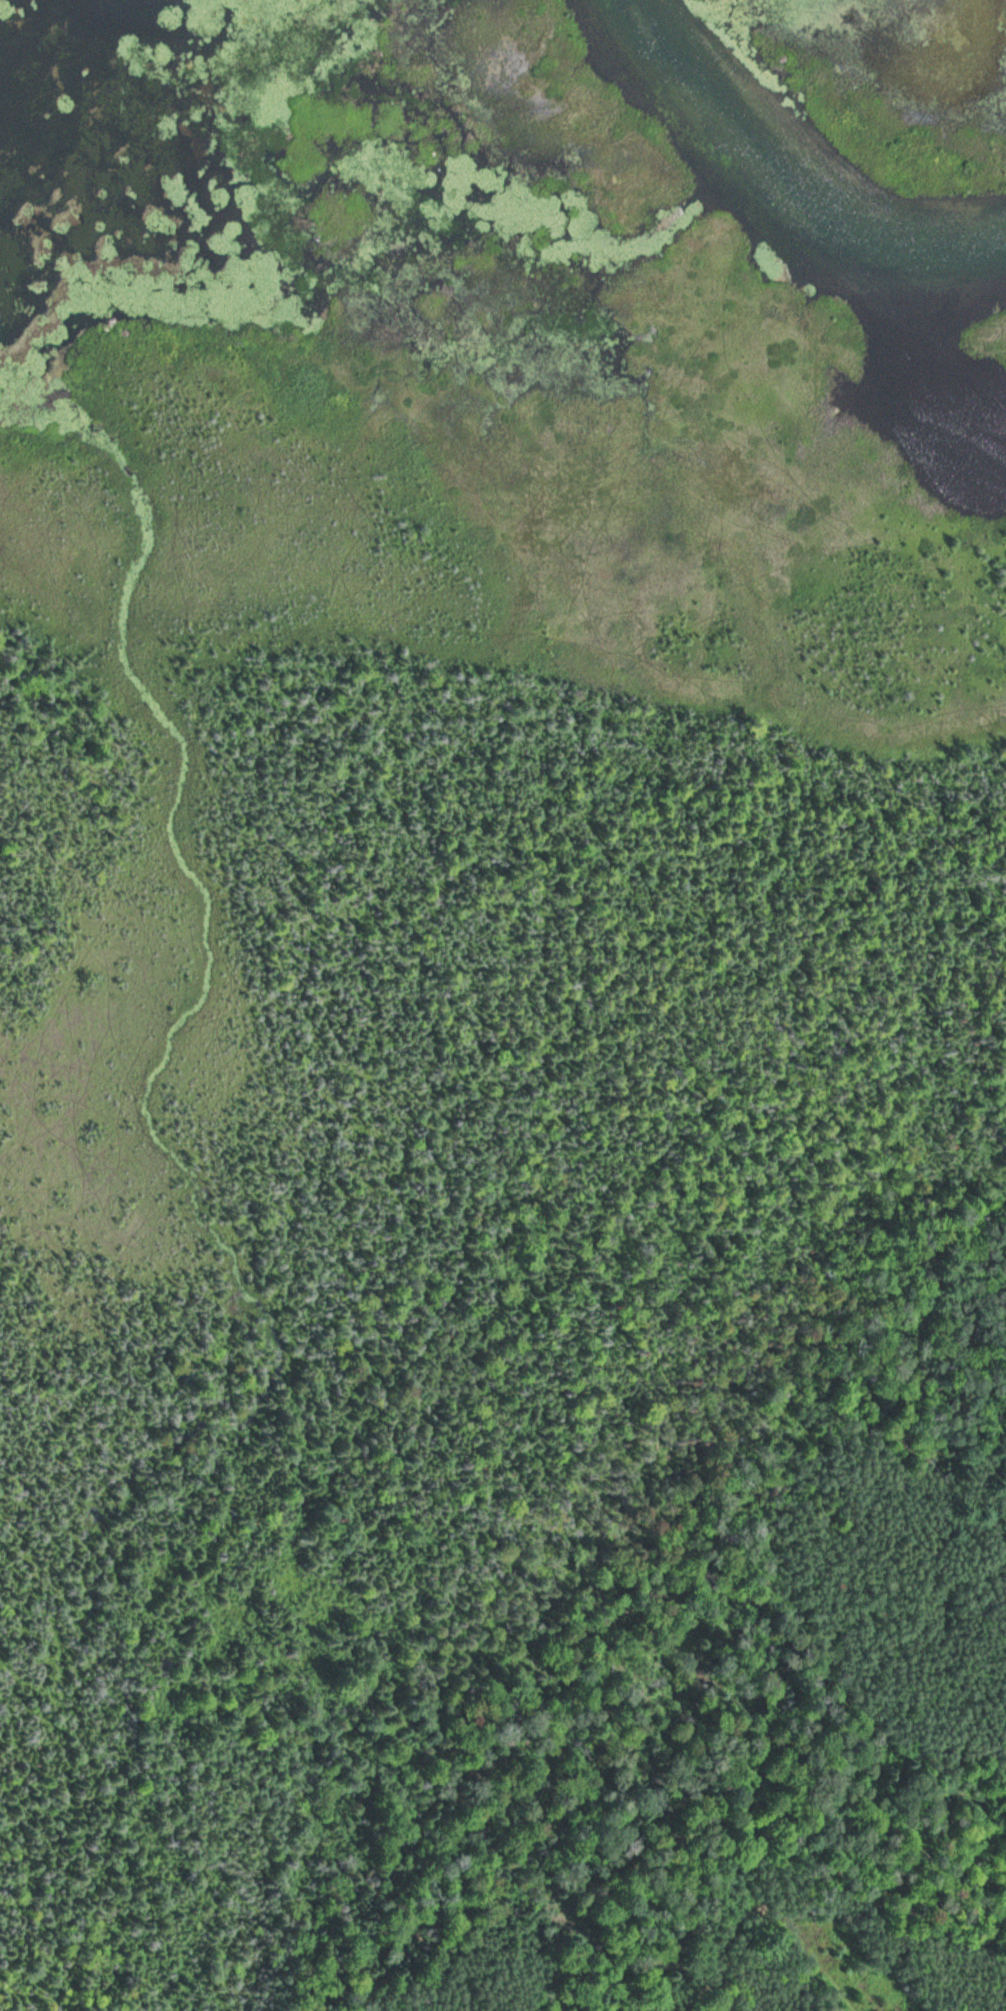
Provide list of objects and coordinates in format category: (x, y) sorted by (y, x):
river: (984, 274)
road: (786, 1605)

